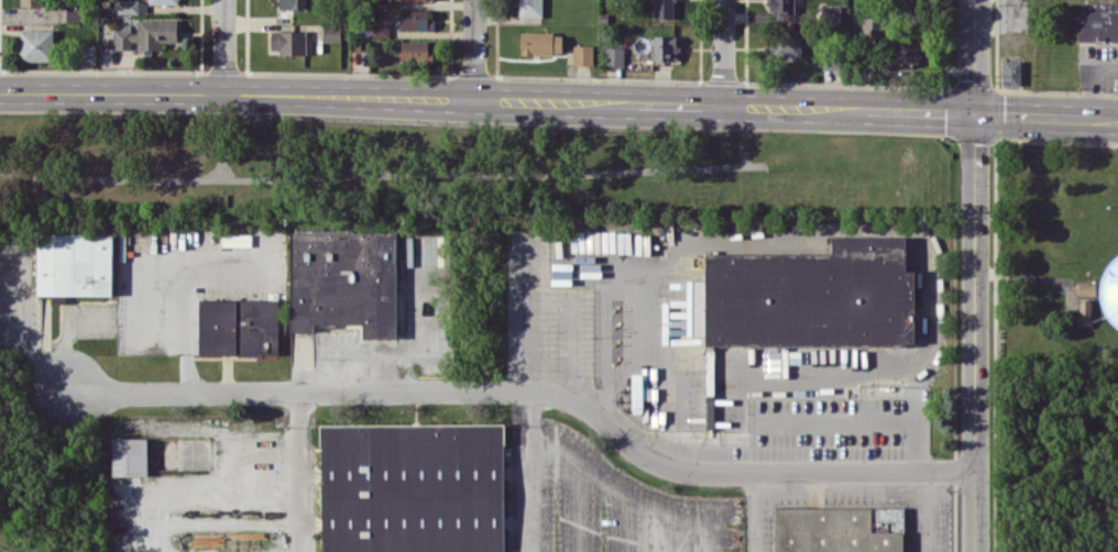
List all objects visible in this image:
building: (163, 1)
building: (30, 2)
building: (906, 3)
building: (292, 4)
building: (131, 5)
building: (781, 5)
building: (530, 8)
building: (664, 9)
building: (74, 14)
building: (413, 19)
building: (1098, 21)
building: (380, 30)
building: (331, 33)
building: (145, 34)
building: (287, 41)
building: (540, 43)
building: (36, 44)
building: (786, 45)
road: (224, 46)
building: (665, 47)
road: (474, 49)
building: (87, 53)
building: (416, 53)
road: (723, 53)
building: (582, 54)
building: (907, 54)
building: (614, 56)
road: (975, 56)
building: (1011, 71)
road: (1092, 86)
road: (559, 102)
traffic signals: (975, 113)
road: (767, 230)
building: (651, 249)
building: (435, 250)
building: (72, 261)
building: (342, 278)
road: (175, 285)
building: (1110, 290)
building: (812, 295)
building: (1085, 311)
building: (237, 328)
road: (974, 332)
road: (743, 361)
road: (529, 389)
road: (917, 426)
building: (129, 453)
road: (526, 470)
road: (295, 472)
road: (197, 482)
building: (410, 487)
road: (626, 498)
road: (929, 511)
building: (837, 528)

